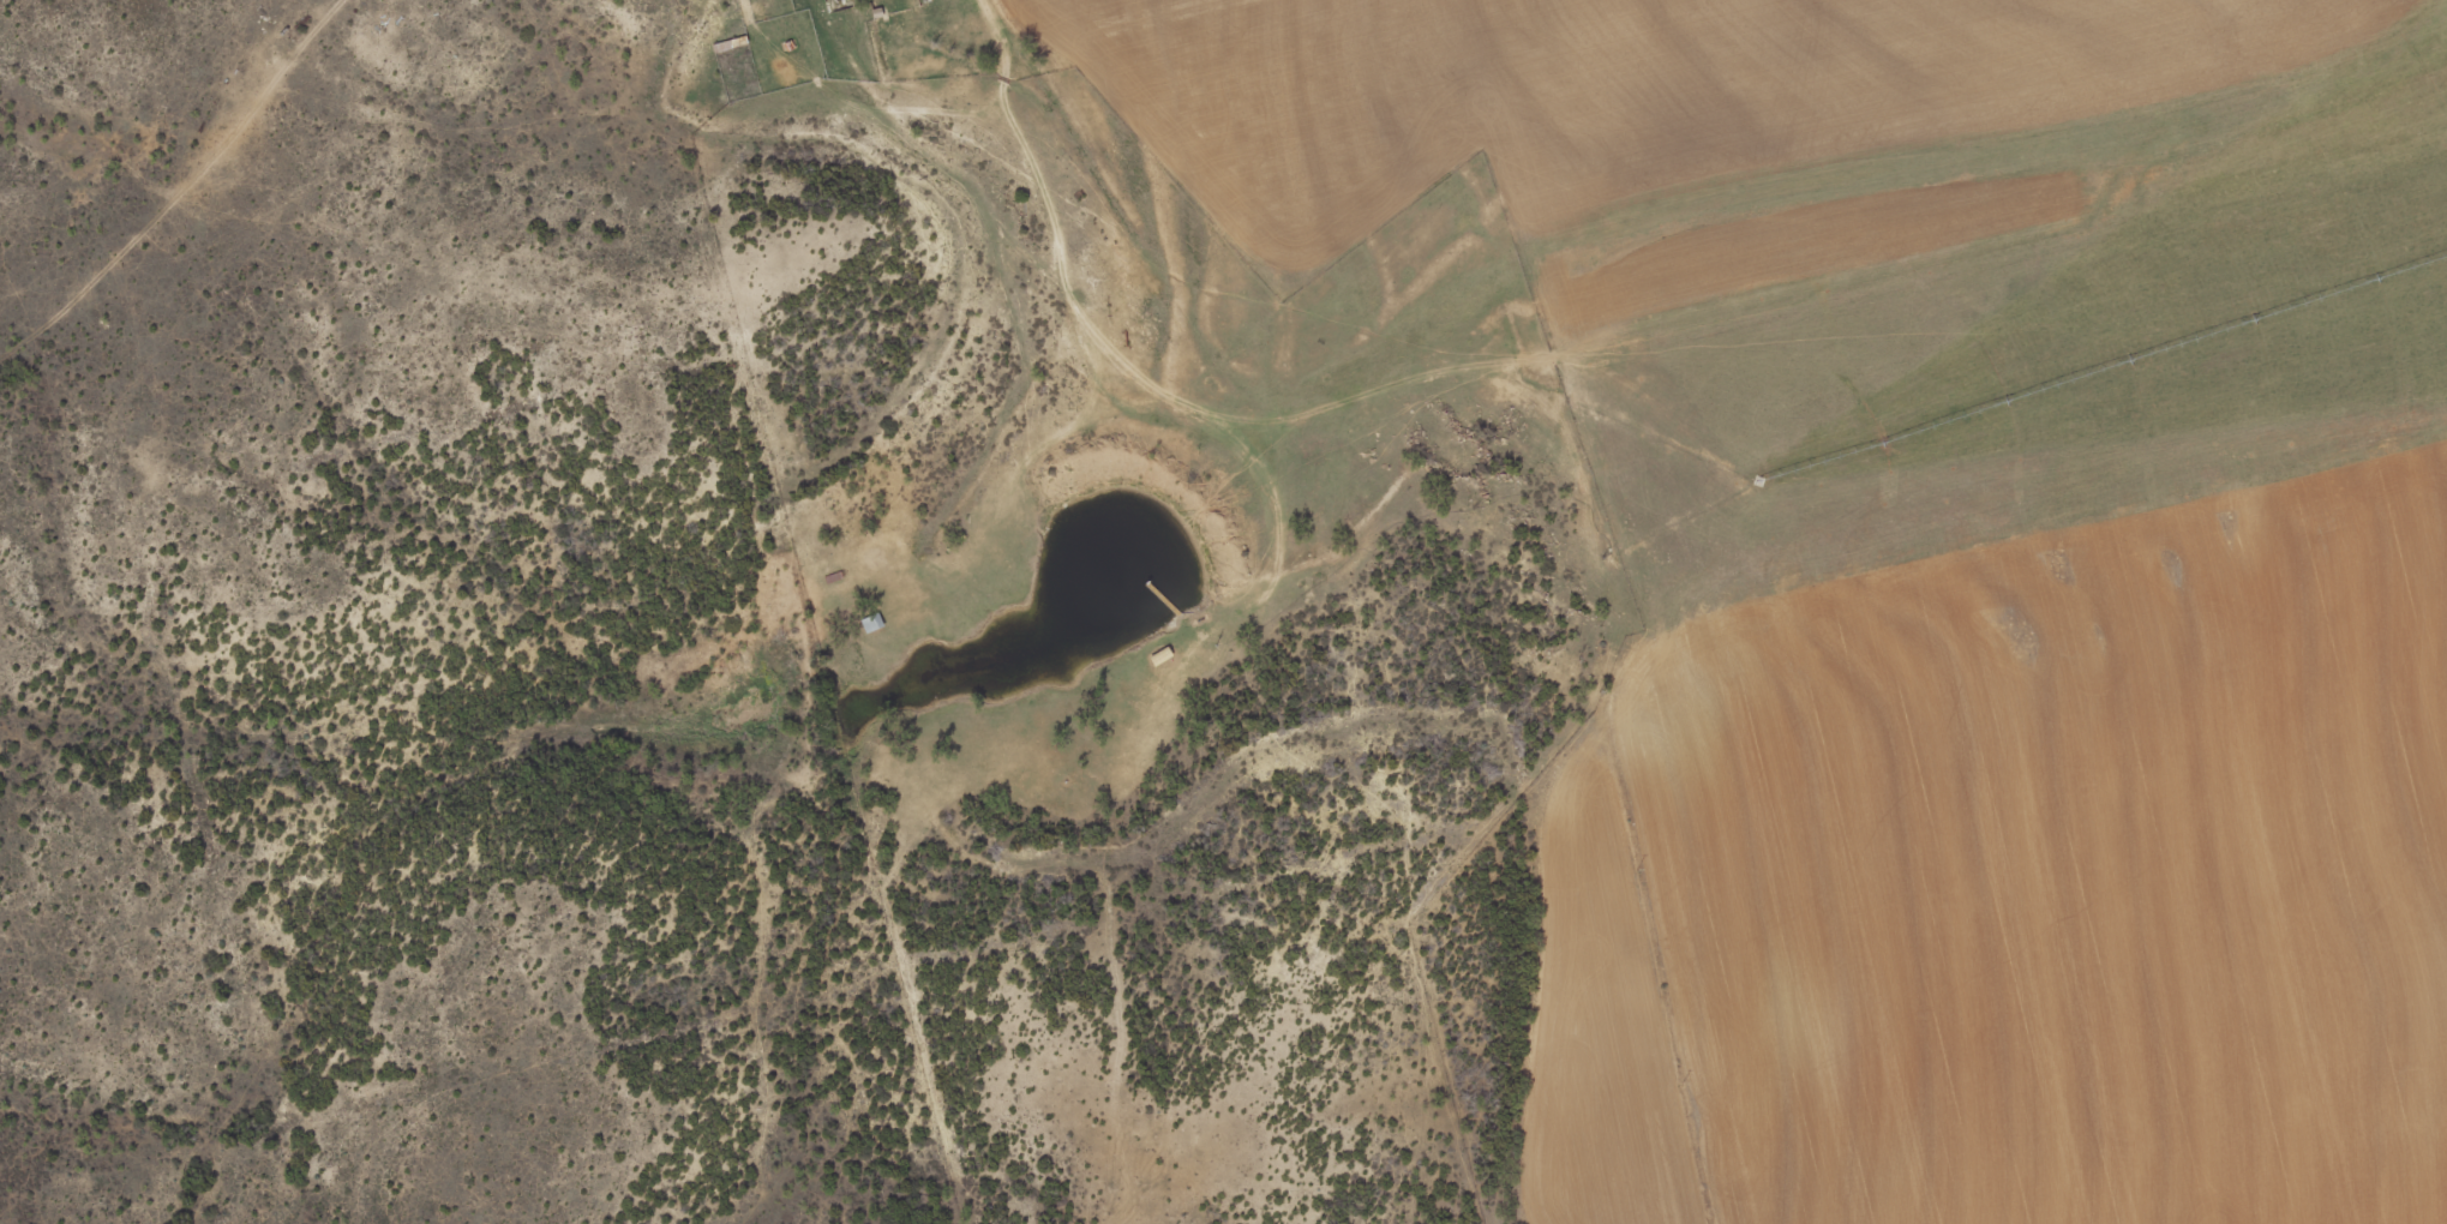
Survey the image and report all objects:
road: (172, 191)

